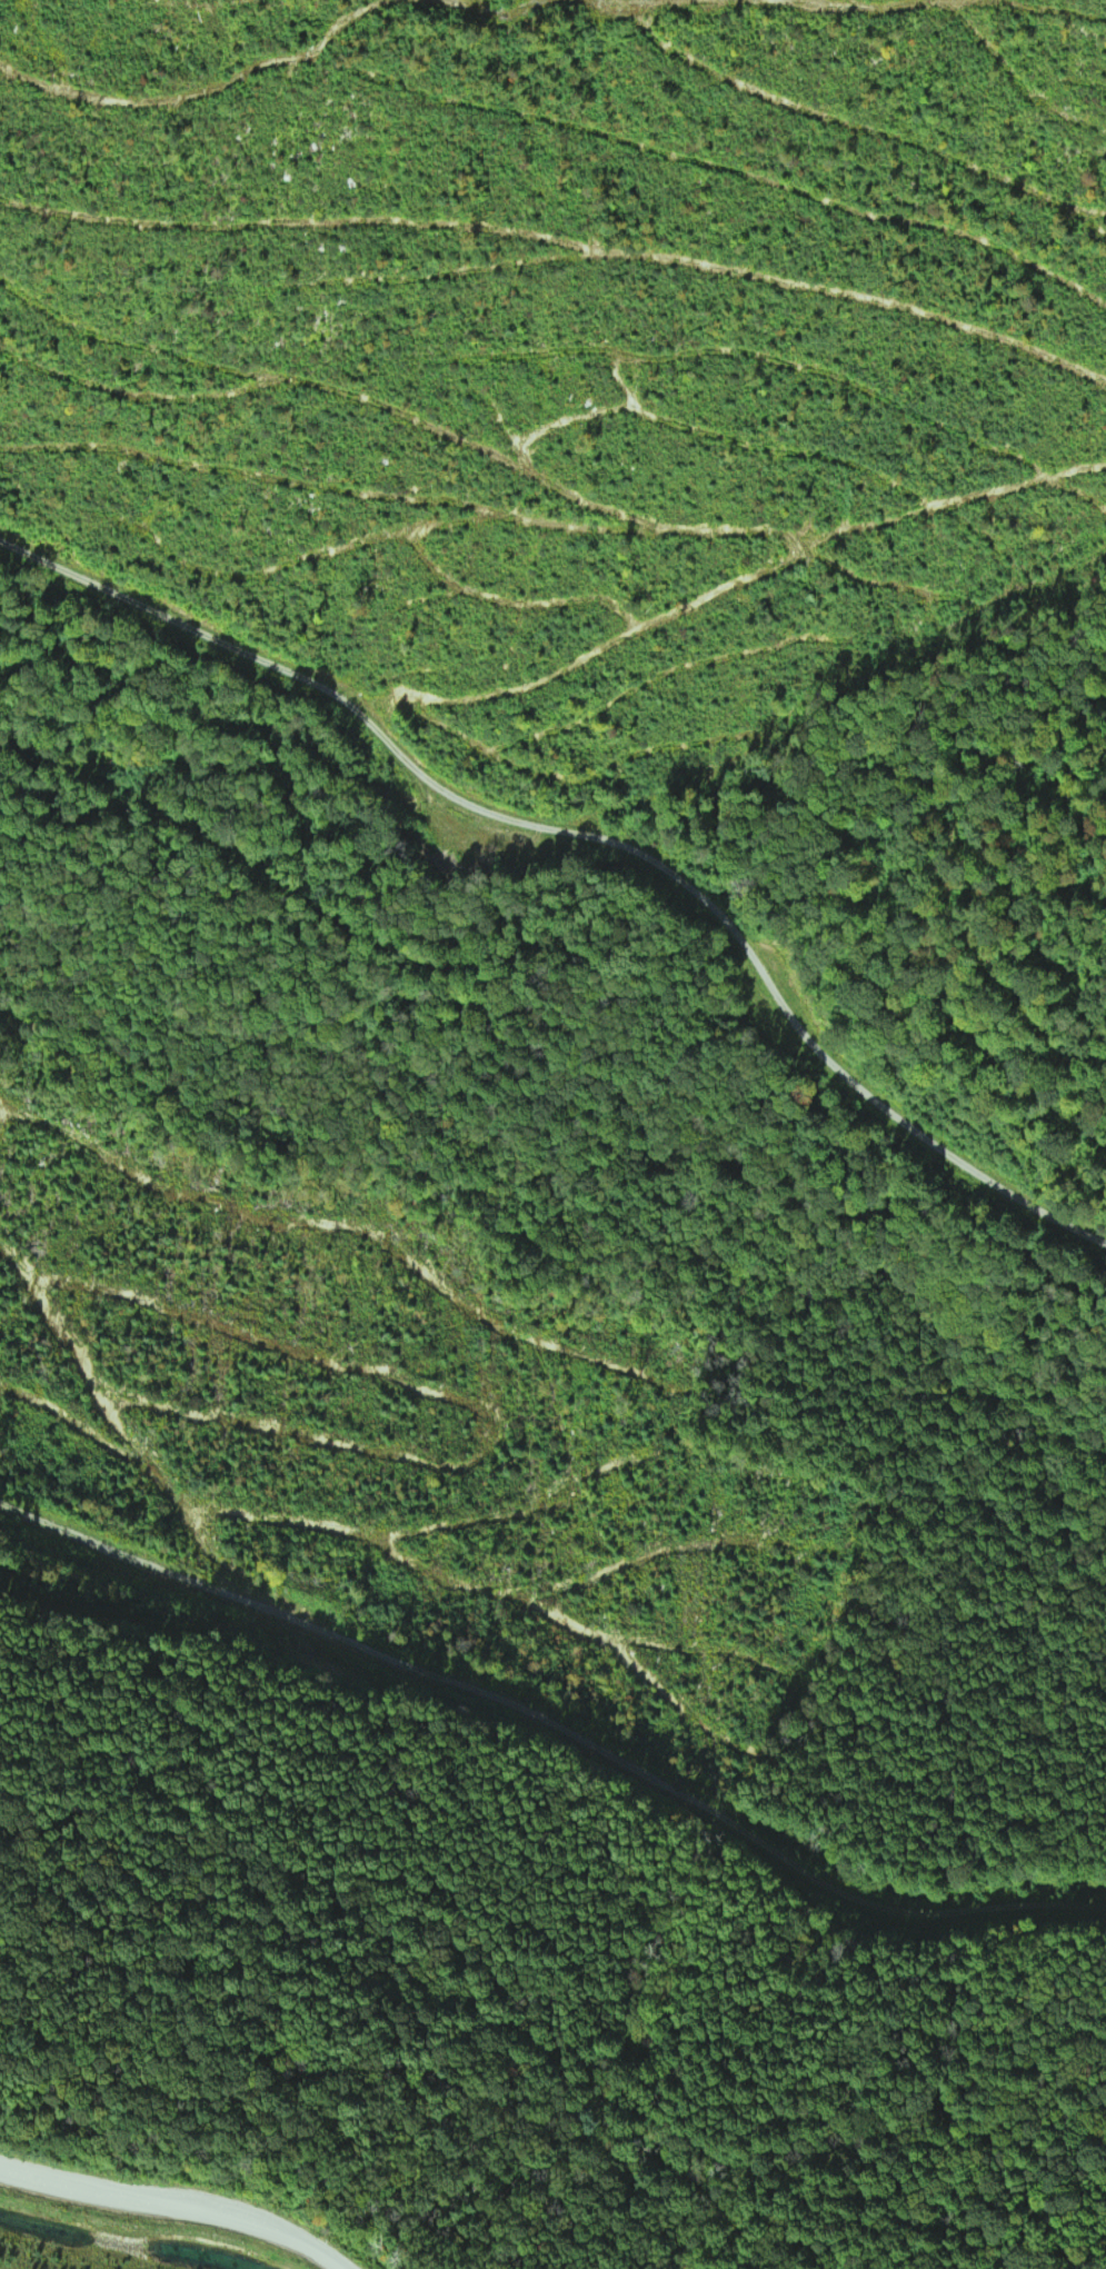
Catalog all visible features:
road: (188, 2255)

